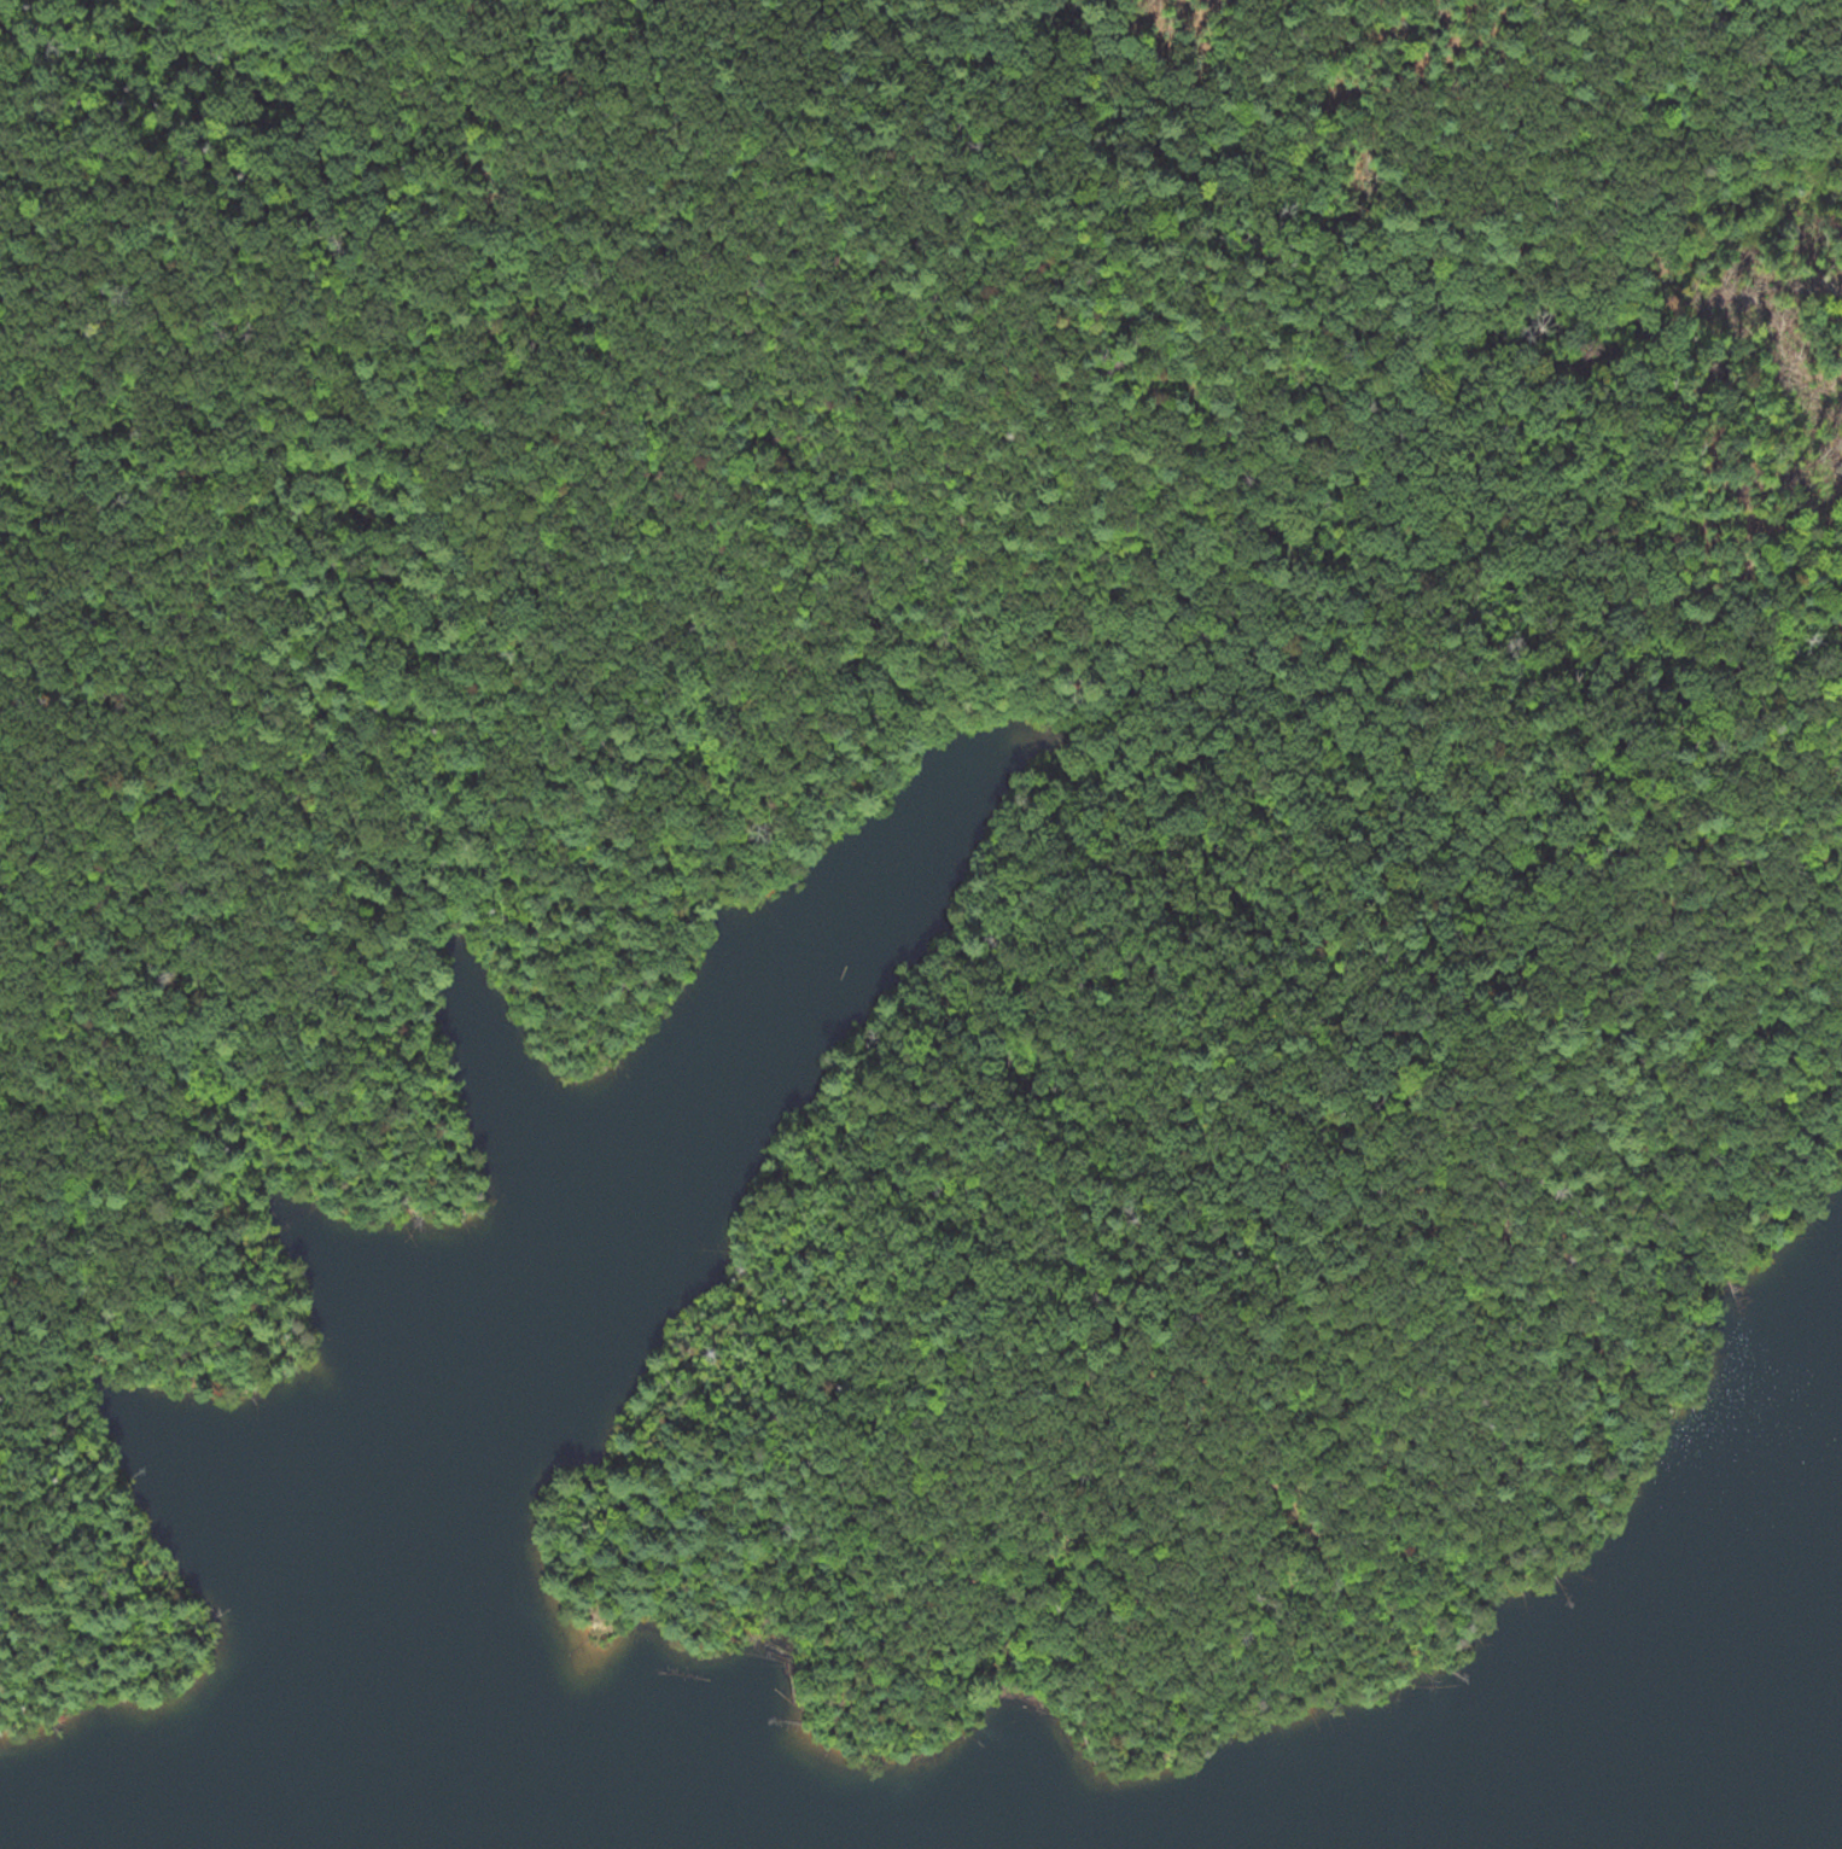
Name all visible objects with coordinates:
river: (1795, 1800)

